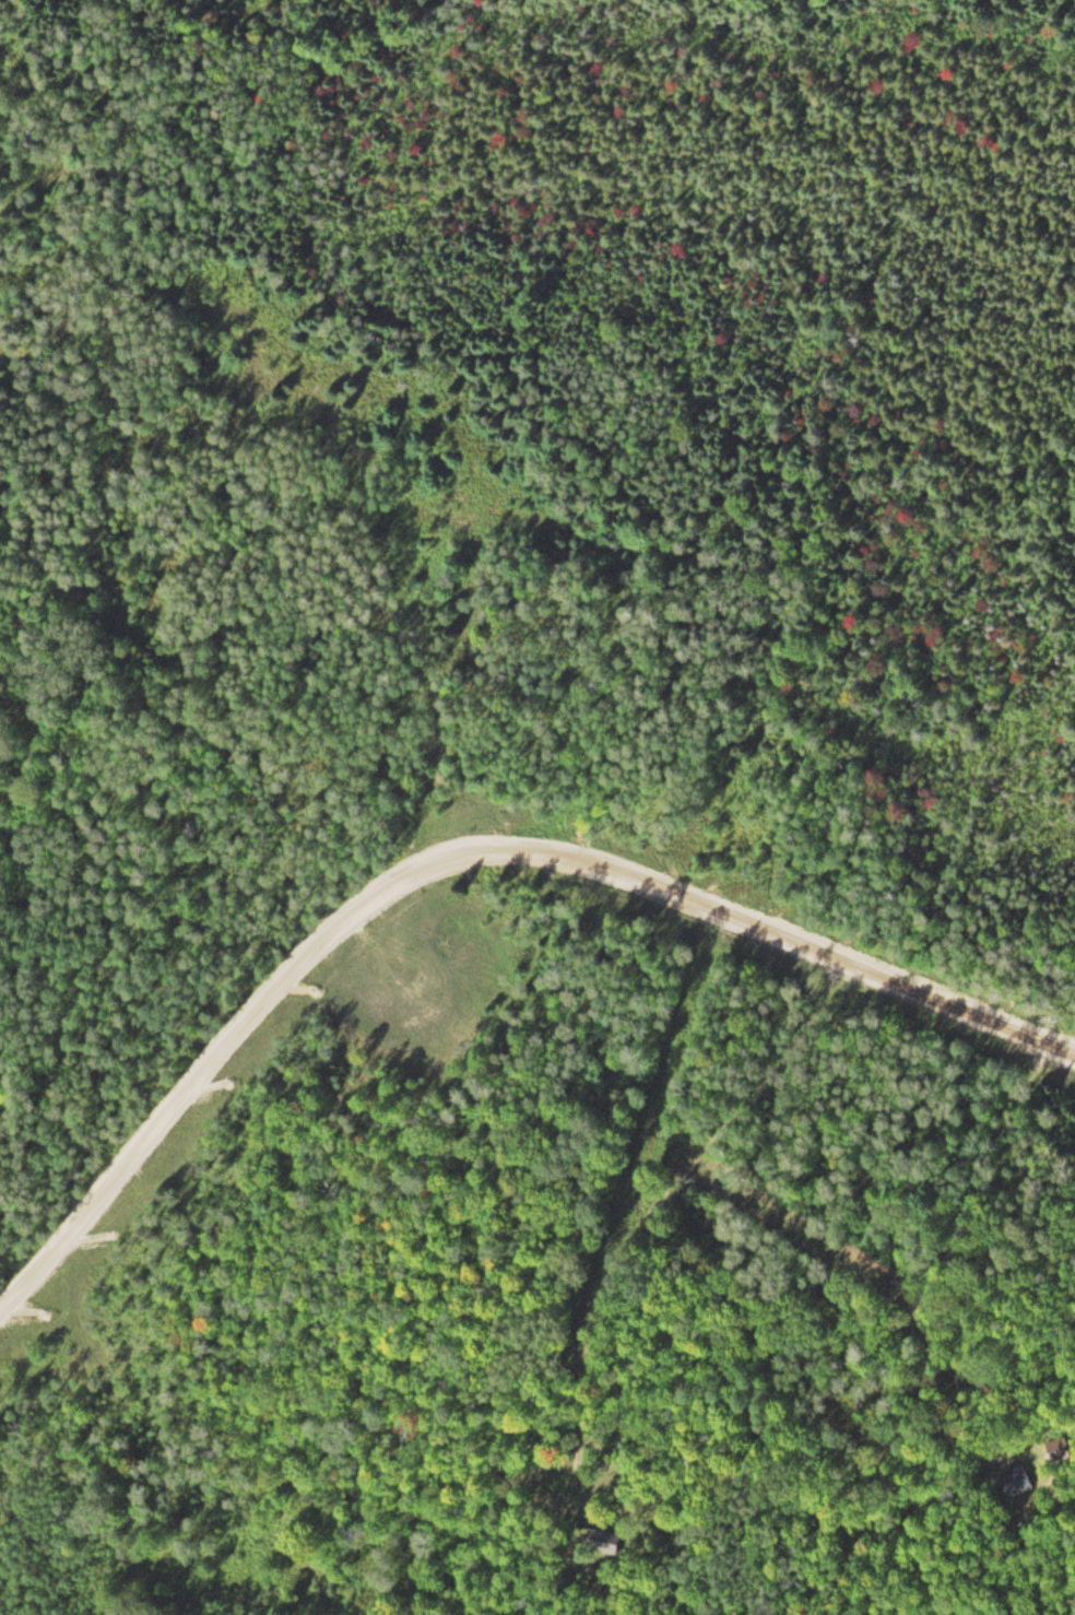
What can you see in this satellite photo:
road: (458, 863)
road: (628, 1200)
building: (1016, 1483)
building: (604, 1545)

